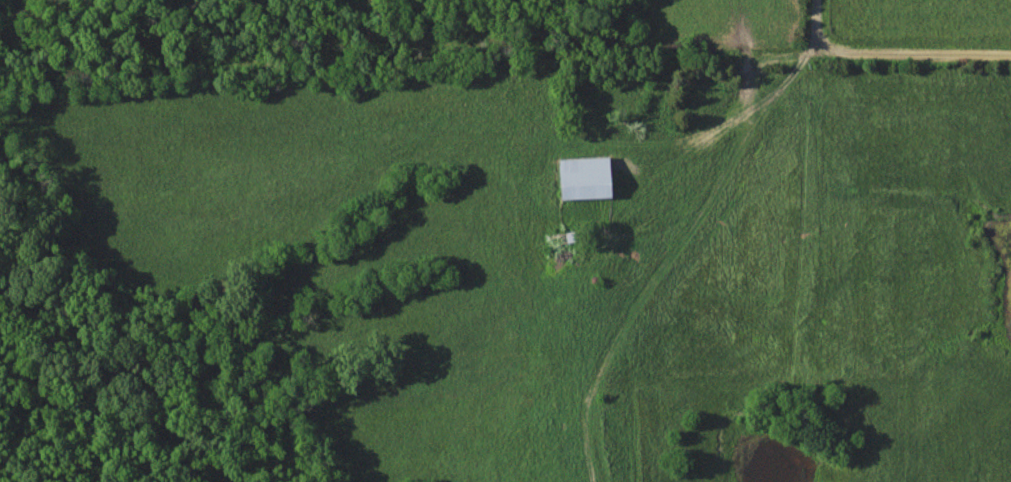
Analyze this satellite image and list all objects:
road: (894, 52)
building: (585, 177)

